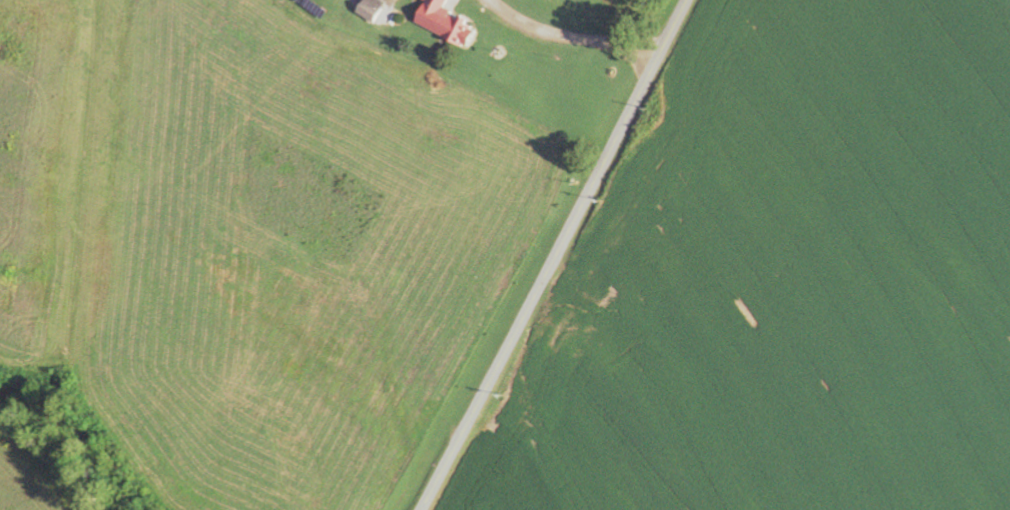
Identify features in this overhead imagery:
building: (377, 12)
building: (447, 23)
road: (557, 255)

